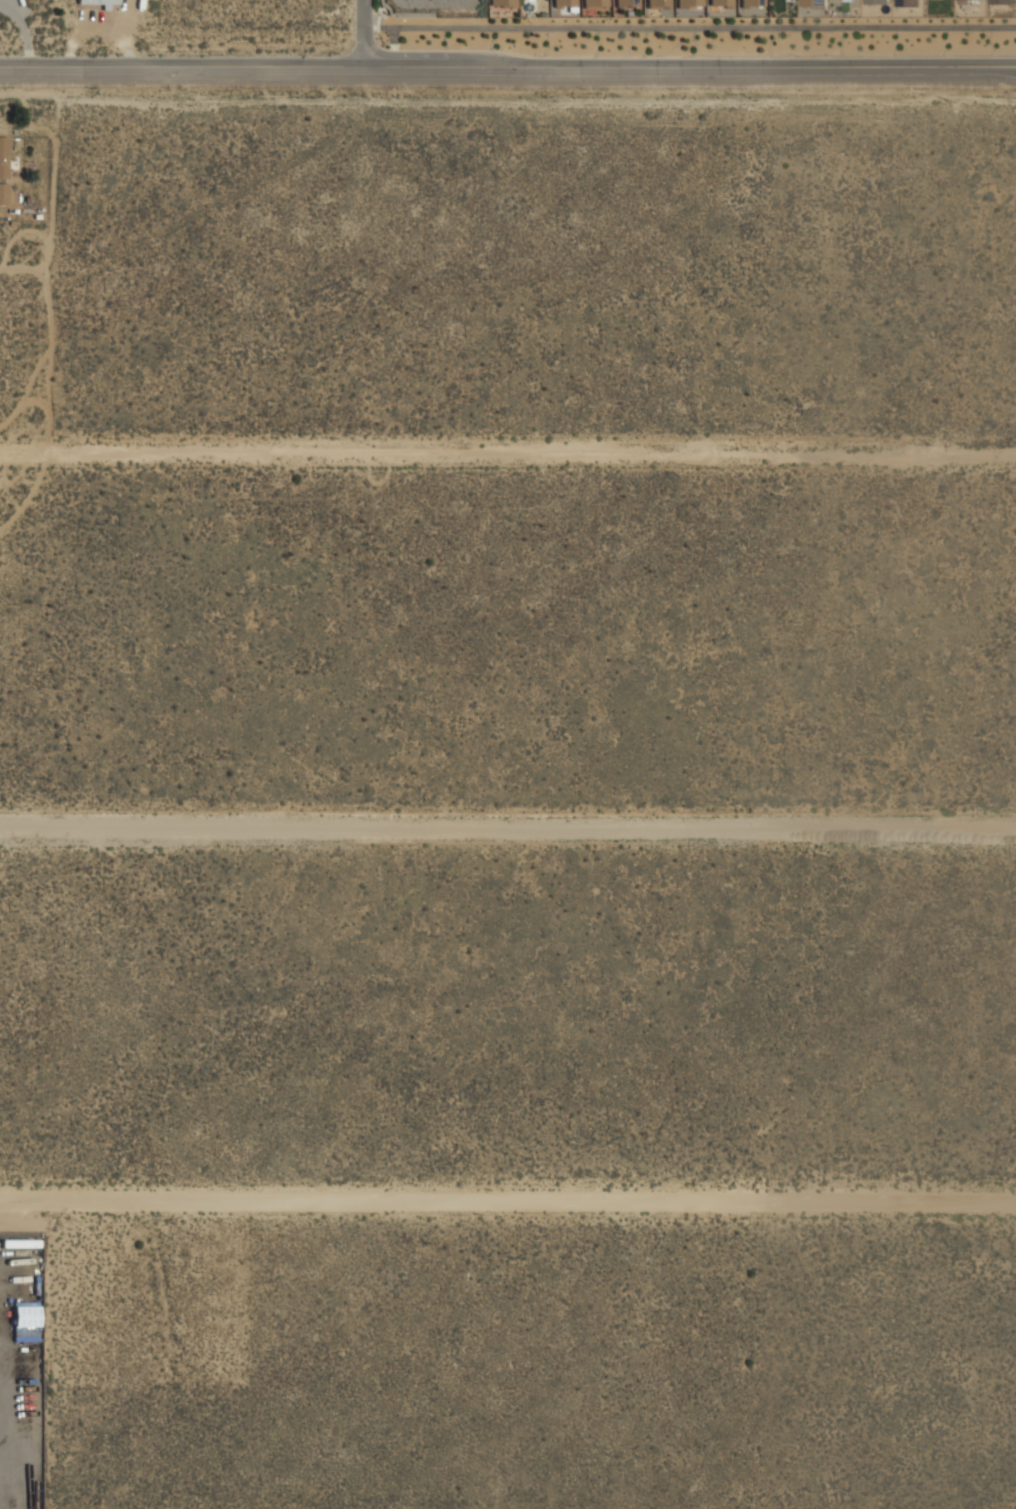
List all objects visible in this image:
building: (875, 1)
building: (969, 1)
building: (1000, 1)
building: (97, 2)
building: (562, 2)
building: (750, 2)
building: (906, 2)
building: (501, 3)
building: (594, 3)
building: (625, 3)
building: (657, 3)
building: (688, 3)
building: (719, 3)
building: (812, 3)
park: (436, 7)
road: (685, 26)
road: (366, 32)
road: (507, 65)
building: (3, 156)
building: (3, 193)
road: (508, 454)
road: (508, 829)
road: (508, 1200)
building: (25, 1315)

